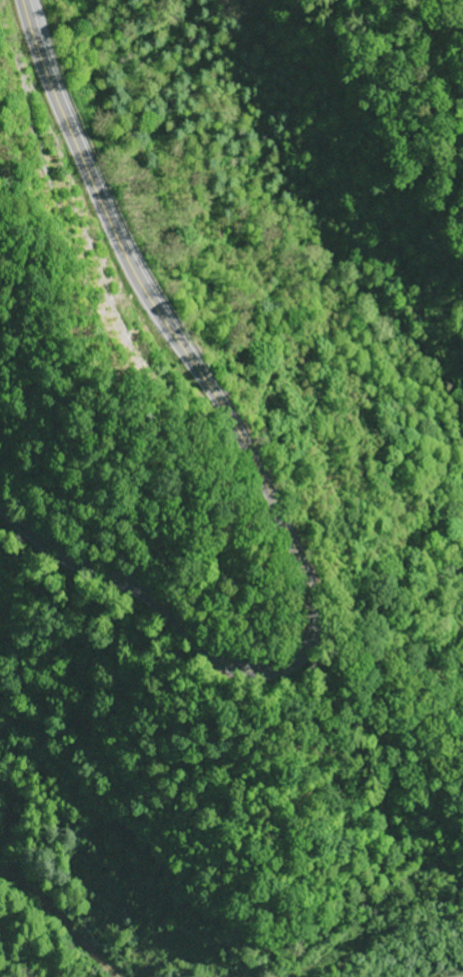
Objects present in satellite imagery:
road: (265, 485)

